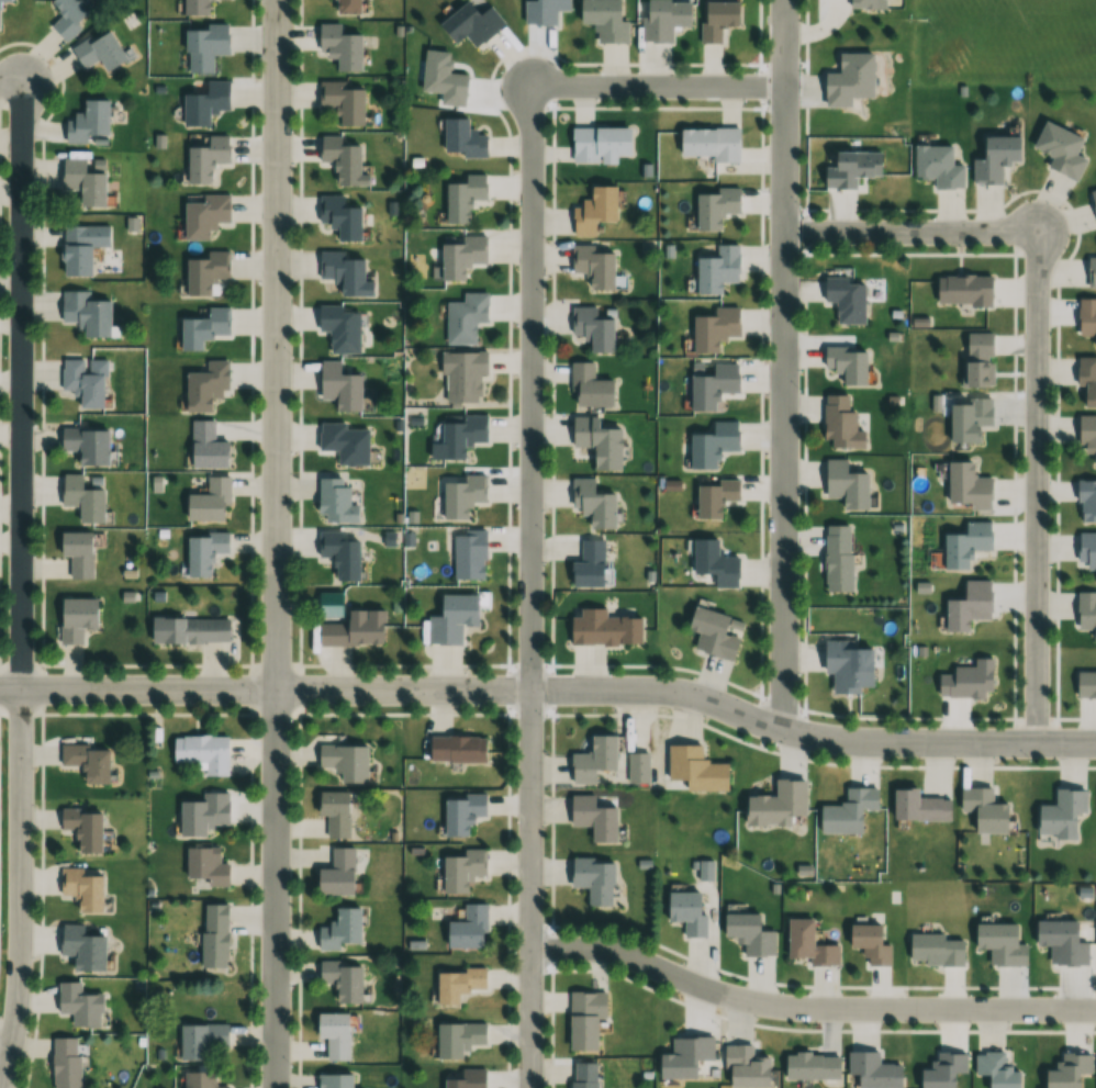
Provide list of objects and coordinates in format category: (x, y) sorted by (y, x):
building: (5, 0)
building: (193, 7)
building: (345, 7)
building: (543, 10)
building: (68, 15)
building: (663, 19)
building: (716, 19)
building: (603, 20)
building: (470, 22)
building: (203, 46)
building: (338, 47)
building: (97, 51)
building: (849, 79)
road: (11, 83)
road: (657, 86)
building: (340, 101)
building: (204, 103)
building: (86, 122)
building: (462, 139)
building: (709, 143)
building: (599, 145)
building: (1059, 149)
building: (206, 158)
building: (994, 158)
building: (339, 161)
building: (937, 166)
building: (851, 168)
building: (81, 180)
building: (463, 198)
building: (1093, 200)
building: (715, 207)
building: (593, 210)
building: (202, 214)
building: (339, 217)
road: (910, 231)
building: (74, 251)
building: (460, 256)
building: (592, 266)
building: (716, 269)
building: (203, 271)
building: (340, 272)
building: (1091, 272)
building: (963, 290)
building: (846, 299)
building: (85, 313)
building: (465, 317)
building: (1086, 317)
building: (591, 327)
building: (202, 328)
building: (339, 328)
building: (714, 328)
building: (977, 359)
building: (847, 363)
road: (784, 364)
building: (461, 374)
building: (85, 381)
building: (1086, 382)
building: (204, 386)
building: (337, 386)
building: (588, 386)
building: (713, 386)
building: (968, 416)
building: (839, 424)
building: (458, 436)
building: (1086, 437)
building: (596, 441)
building: (343, 442)
building: (85, 445)
building: (713, 445)
building: (205, 446)
building: (845, 484)
building: (965, 486)
road: (1037, 486)
building: (461, 494)
building: (81, 497)
building: (714, 497)
building: (209, 501)
building: (335, 501)
building: (1085, 501)
building: (592, 504)
road: (276, 543)
building: (965, 543)
building: (76, 552)
building: (203, 552)
building: (470, 552)
building: (339, 554)
building: (837, 557)
building: (713, 561)
building: (589, 564)
road: (22, 586)
road: (530, 586)
building: (965, 606)
building: (1085, 613)
building: (452, 618)
building: (75, 619)
building: (603, 628)
building: (188, 630)
building: (350, 631)
building: (711, 633)
building: (847, 662)
building: (965, 680)
building: (1084, 683)
road: (551, 691)
building: (457, 749)
building: (202, 752)
building: (593, 759)
building: (86, 762)
building: (344, 762)
building: (638, 767)
building: (695, 767)
building: (916, 807)
building: (981, 810)
building: (846, 811)
building: (334, 812)
building: (461, 812)
building: (1059, 814)
building: (201, 816)
building: (592, 817)
building: (82, 829)
building: (206, 866)
building: (461, 868)
building: (337, 874)
building: (593, 878)
building: (82, 887)
building: (685, 912)
building: (468, 928)
building: (342, 930)
building: (748, 933)
building: (214, 935)
building: (1061, 942)
building: (807, 943)
building: (868, 943)
building: (999, 944)
building: (81, 949)
building: (933, 950)
building: (342, 980)
building: (457, 983)
building: (80, 1005)
road: (807, 1008)
building: (583, 1018)
building: (334, 1034)
building: (458, 1037)
building: (202, 1040)
road: (5, 1041)
building: (683, 1057)
building: (65, 1063)
building: (809, 1066)
building: (743, 1067)
building: (994, 1069)
building: (871, 1070)
building: (941, 1070)
building: (1066, 1070)
building: (583, 1075)
building: (199, 1079)
building: (468, 1079)
building: (334, 1080)

